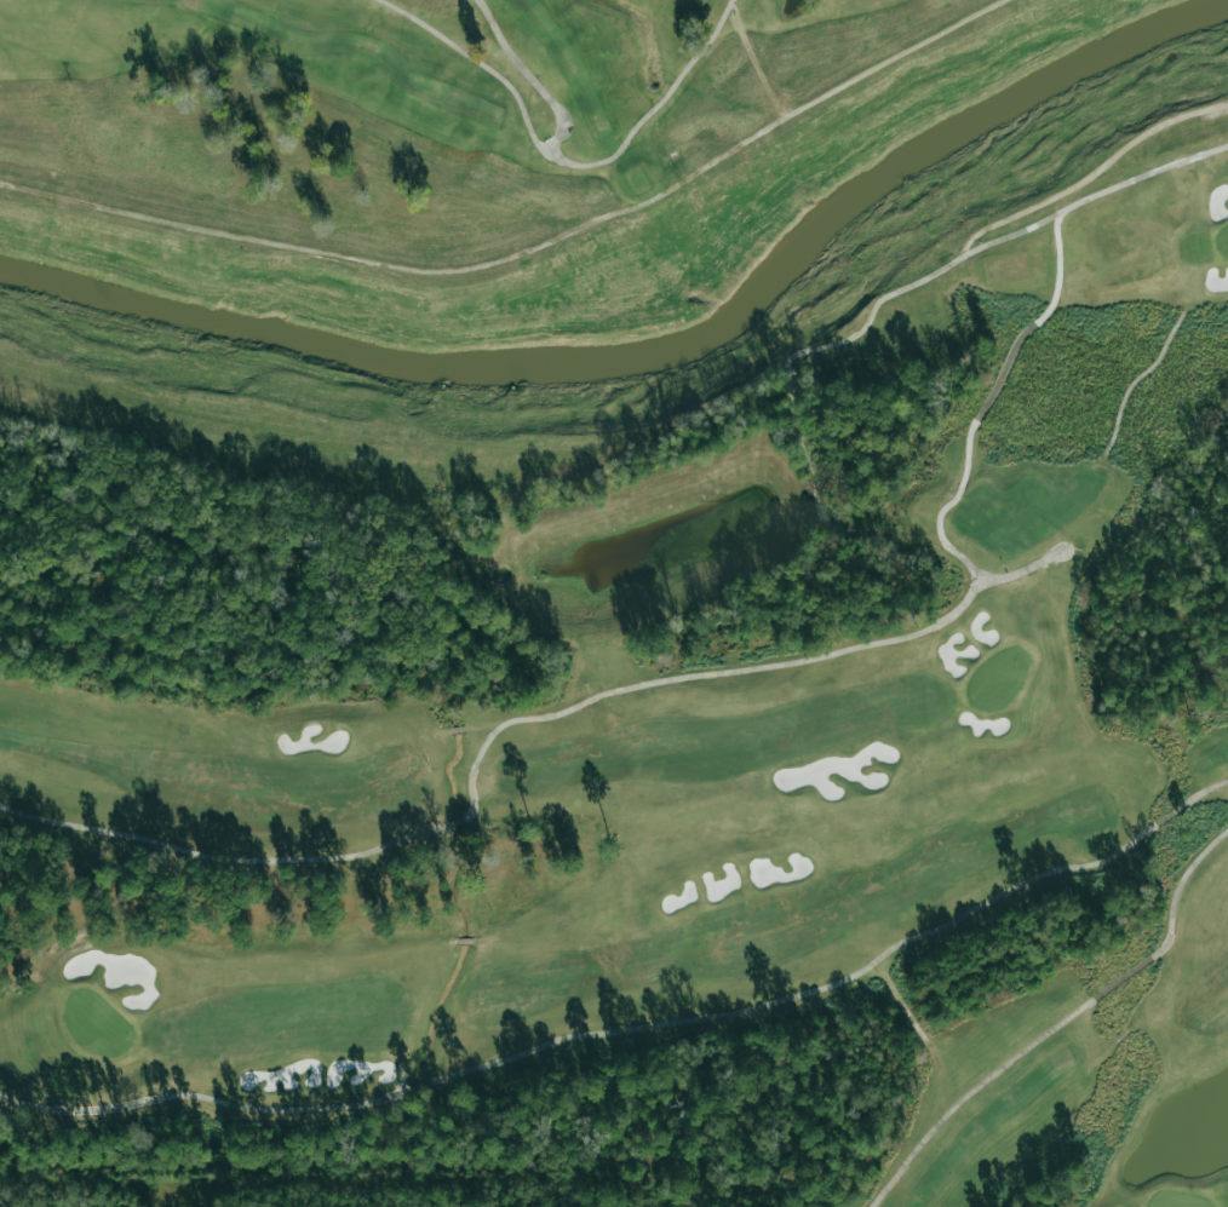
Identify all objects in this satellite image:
park: (423, 113)
river: (655, 343)
park: (619, 592)
park: (702, 793)

